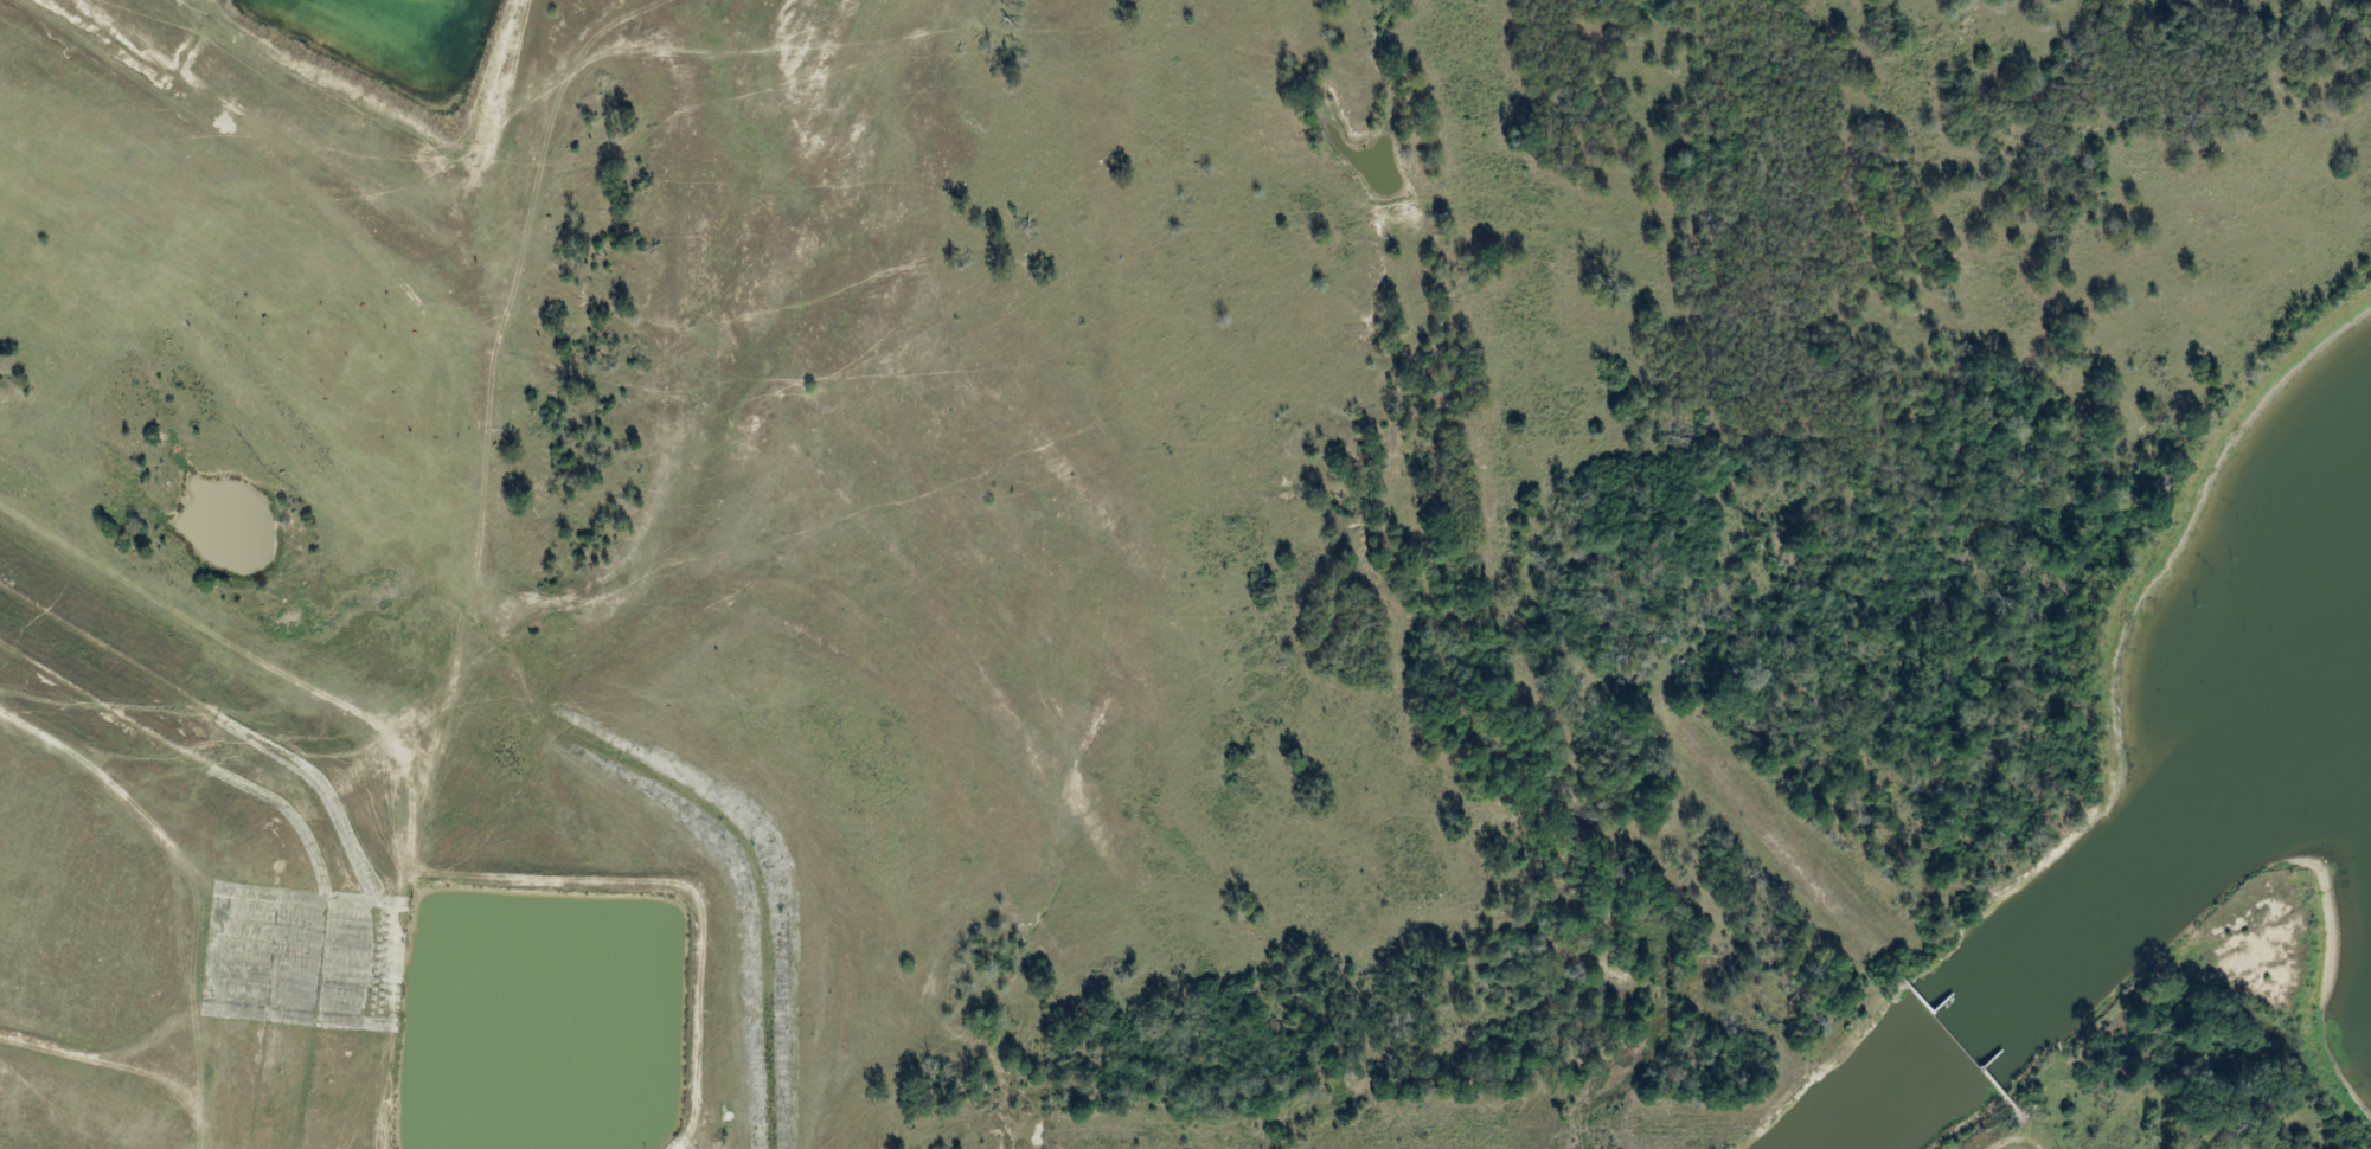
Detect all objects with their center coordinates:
dam: (1959, 1045)
road: (2017, 1140)

